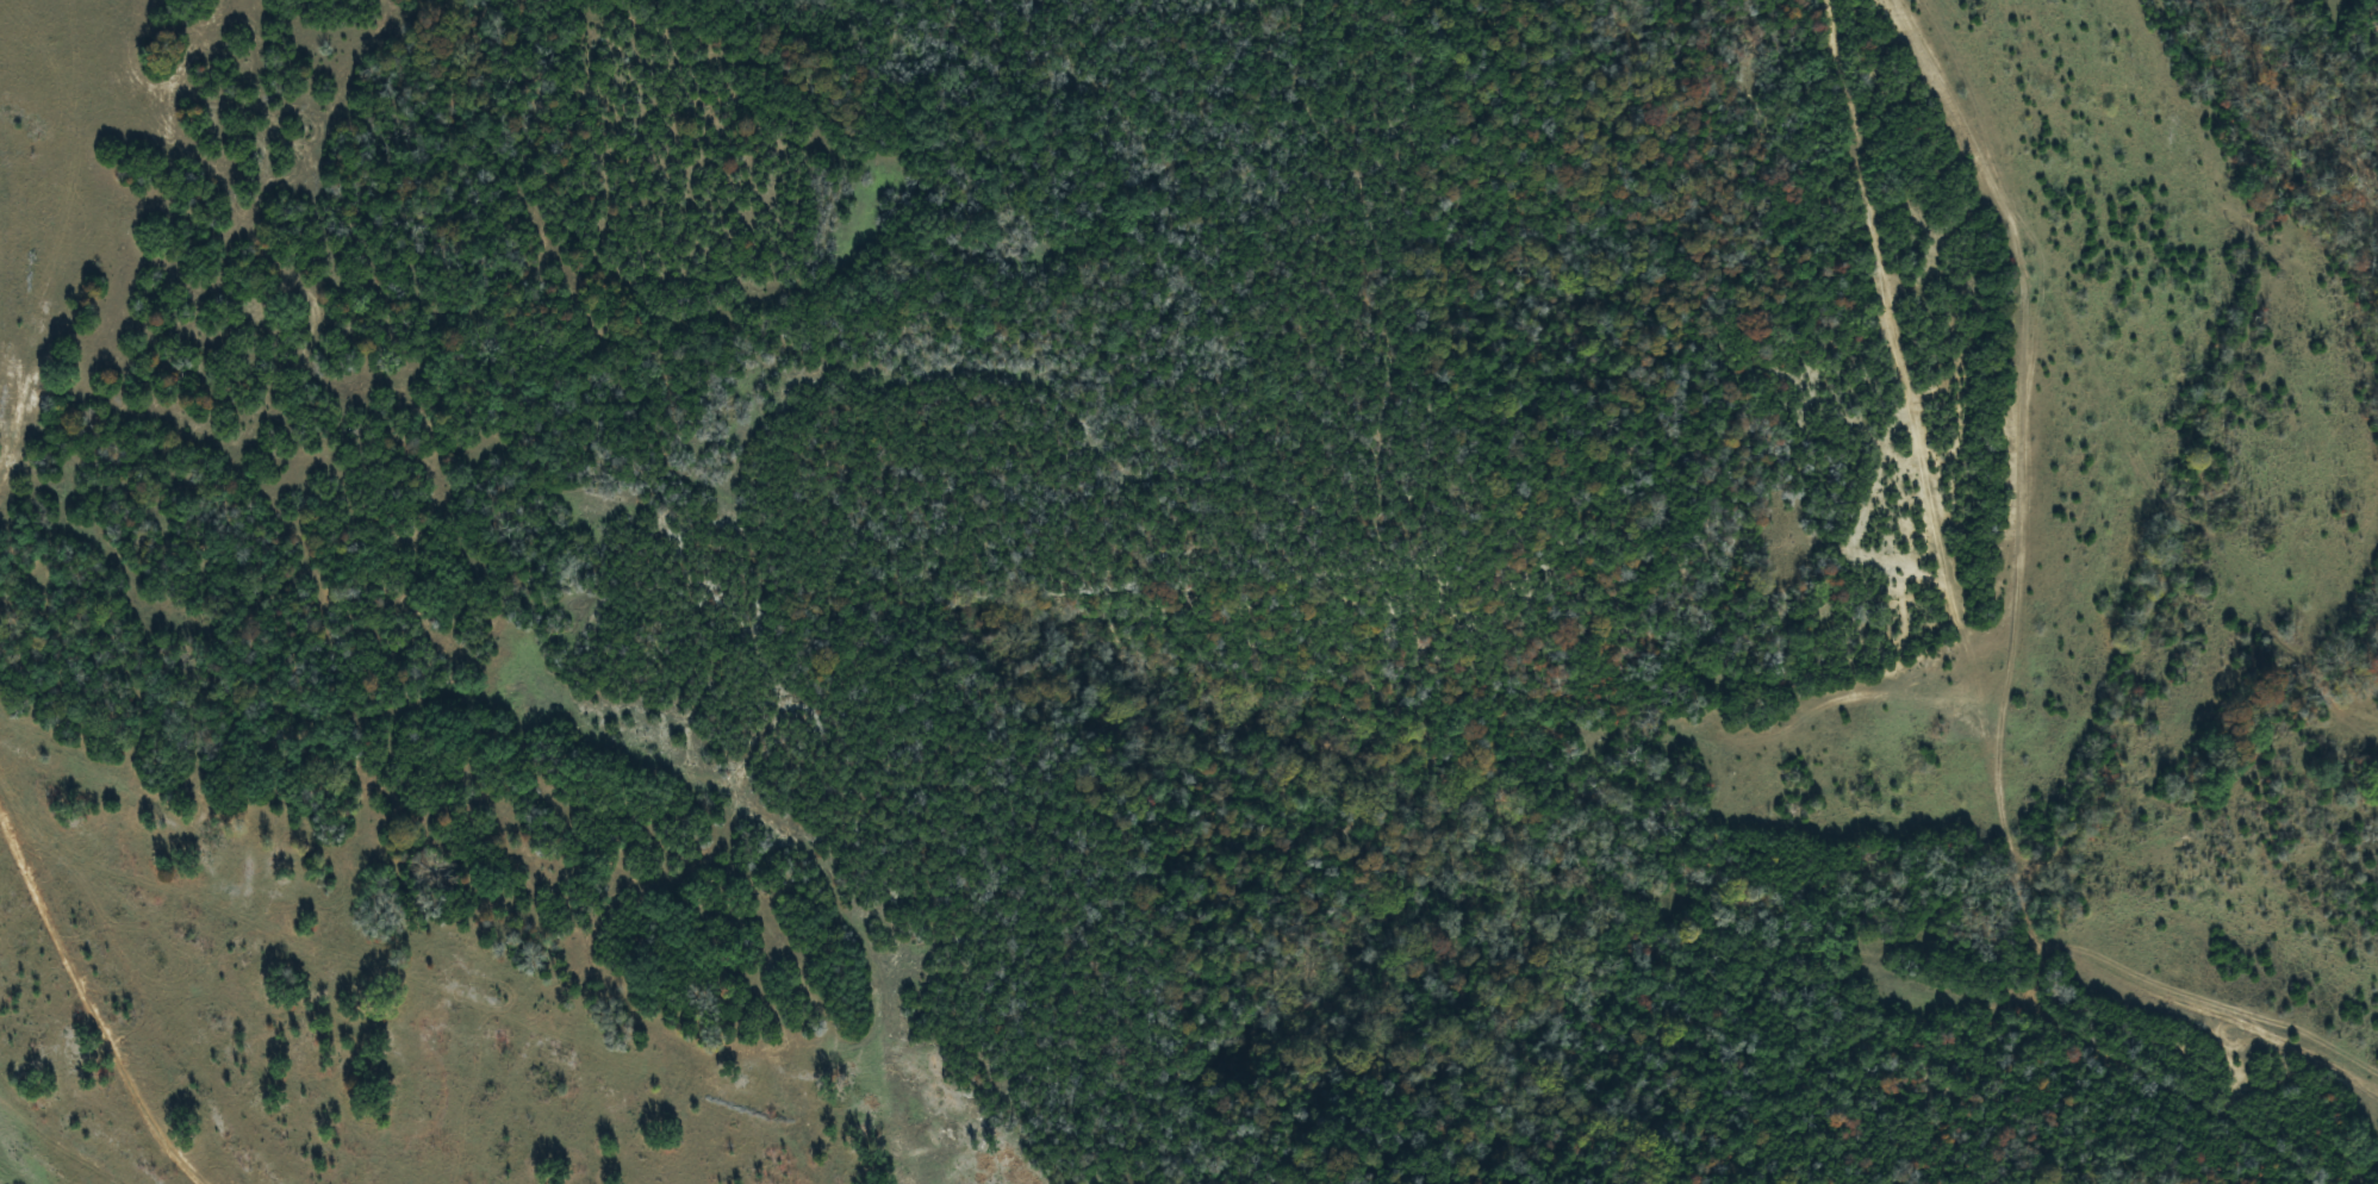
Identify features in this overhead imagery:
road: (1990, 650)
road: (70, 959)

